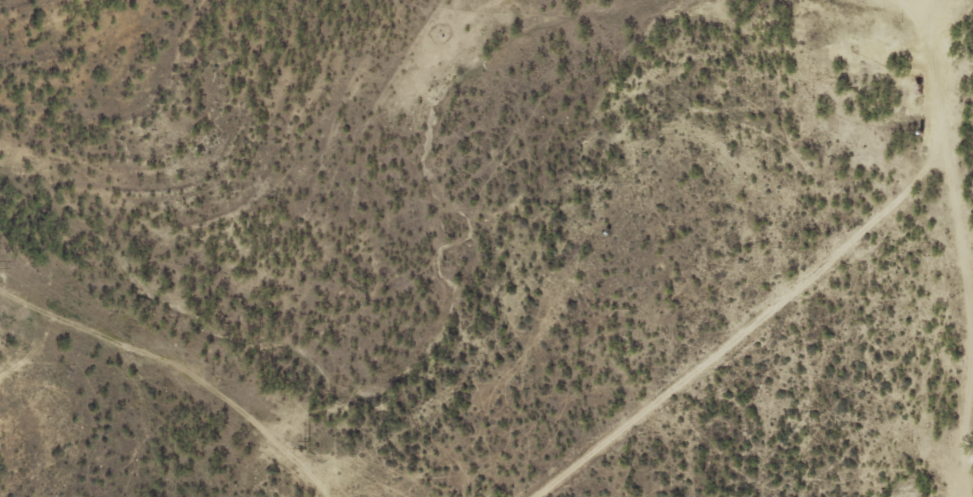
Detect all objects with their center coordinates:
power tower: (310, 446)

